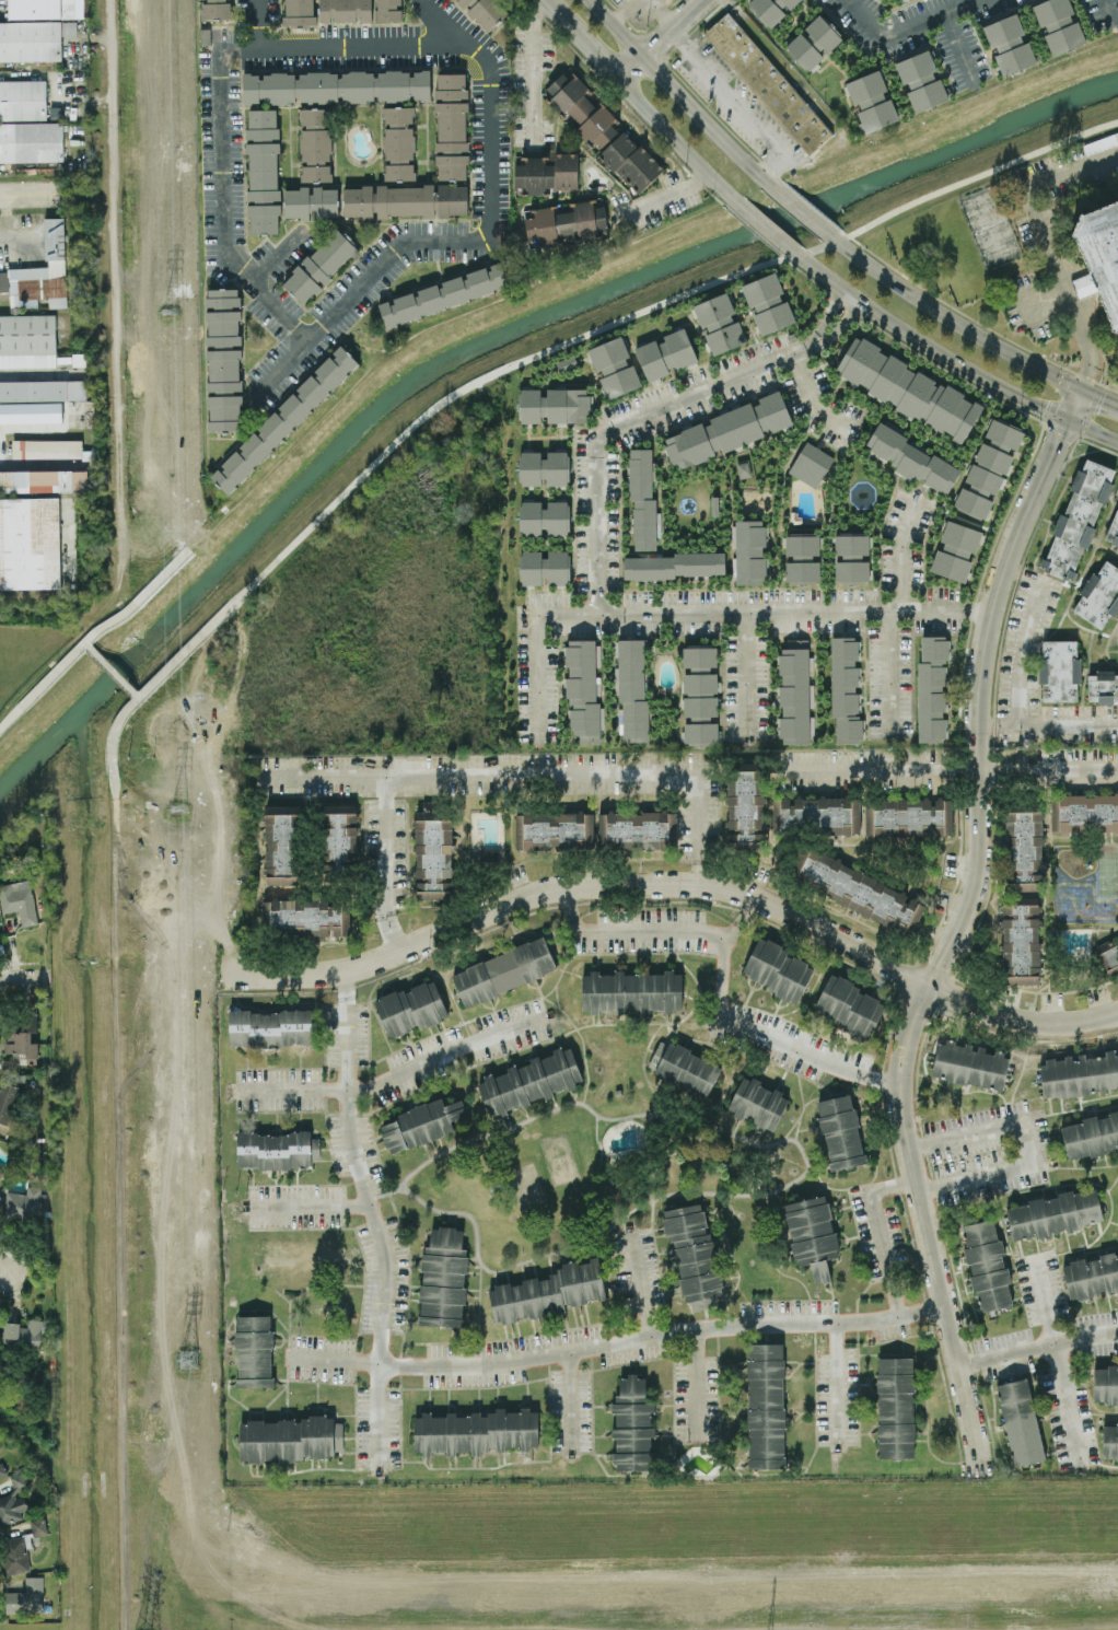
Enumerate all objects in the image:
building: (902, 0)
road: (543, 1)
building: (42, 8)
building: (217, 9)
building: (771, 9)
building: (345, 10)
building: (388, 10)
building: (485, 11)
building: (299, 12)
road: (1107, 13)
road: (260, 22)
road: (439, 22)
building: (1058, 24)
road: (905, 26)
road: (660, 39)
building: (30, 40)
road: (580, 40)
building: (813, 42)
road: (424, 44)
building: (1009, 44)
road: (963, 47)
road: (534, 71)
building: (921, 81)
building: (768, 82)
road: (678, 93)
building: (872, 101)
road: (737, 103)
building: (27, 125)
building: (452, 126)
building: (603, 131)
building: (315, 141)
road: (675, 141)
park: (966, 141)
building: (398, 142)
building: (263, 171)
building: (545, 172)
road: (30, 195)
road: (661, 197)
building: (405, 200)
building: (311, 202)
road: (800, 210)
road: (761, 225)
building: (990, 226)
road: (1056, 251)
building: (1102, 254)
road: (280, 258)
building: (319, 265)
building: (39, 272)
building: (443, 294)
building: (768, 304)
power tower: (172, 314)
road: (952, 319)
building: (719, 323)
road: (432, 328)
building: (27, 334)
road: (581, 336)
river: (496, 337)
road: (113, 342)
road: (922, 345)
building: (665, 353)
building: (223, 358)
building: (566, 362)
building: (614, 366)
building: (908, 388)
building: (43, 389)
traffic signals: (1083, 391)
road: (810, 395)
road: (1100, 397)
building: (555, 406)
road: (649, 411)
building: (284, 419)
traffic signals: (1070, 421)
building: (727, 430)
road: (1094, 431)
building: (47, 447)
building: (912, 459)
road: (39, 463)
building: (811, 464)
building: (989, 467)
building: (544, 468)
building: (642, 497)
building: (543, 517)
building: (1079, 517)
building: (33, 525)
building: (1113, 529)
building: (748, 550)
building: (955, 550)
road: (902, 556)
building: (851, 557)
building: (803, 559)
building: (676, 564)
building: (544, 567)
road: (1001, 570)
building: (1099, 595)
road: (141, 596)
road: (762, 613)
road: (1027, 634)
building: (1117, 643)
road: (110, 670)
building: (1059, 670)
road: (888, 672)
road: (745, 674)
road: (537, 676)
road: (42, 685)
building: (1102, 686)
building: (846, 687)
building: (931, 688)
building: (582, 689)
building: (632, 689)
building: (794, 692)
building: (700, 695)
road: (1048, 725)
road: (1048, 764)
road: (617, 770)
road: (114, 771)
road: (28, 802)
building: (745, 808)
power tower: (180, 810)
building: (1084, 812)
building: (818, 813)
building: (908, 817)
road: (700, 827)
building: (636, 829)
building: (554, 830)
building: (338, 837)
building: (282, 845)
building: (1025, 847)
building: (433, 851)
road: (386, 863)
road: (973, 882)
road: (575, 888)
building: (861, 890)
building: (19, 900)
road: (116, 906)
building: (306, 917)
road: (631, 929)
building: (0, 936)
building: (1021, 940)
road: (723, 951)
building: (1108, 954)
building: (778, 969)
building: (503, 971)
road: (23, 979)
building: (631, 991)
building: (850, 1005)
building: (410, 1008)
road: (1018, 1020)
building: (270, 1027)
building: (22, 1039)
road: (796, 1047)
road: (443, 1052)
building: (969, 1064)
building: (684, 1067)
building: (1079, 1074)
building: (529, 1081)
road: (290, 1090)
building: (8, 1101)
building: (757, 1103)
building: (421, 1123)
building: (840, 1131)
building: (1091, 1136)
building: (277, 1149)
building: (1, 1171)
road: (965, 1175)
road: (62, 1199)
building: (25, 1202)
road: (310, 1206)
building: (1053, 1213)
road: (371, 1216)
road: (925, 1231)
building: (812, 1234)
building: (694, 1254)
road: (4, 1262)
building: (987, 1266)
building: (1091, 1274)
building: (443, 1278)
road: (641, 1282)
building: (548, 1291)
road: (120, 1294)
building: (23, 1335)
road: (621, 1339)
road: (1038, 1346)
building: (254, 1351)
power tower: (187, 1361)
road: (1063, 1362)
building: (1105, 1384)
road: (694, 1387)
road: (839, 1393)
road: (570, 1404)
building: (766, 1405)
building: (896, 1407)
building: (1020, 1421)
building: (632, 1424)
building: (476, 1431)
building: (289, 1439)
building: (1110, 1441)
road: (35, 1447)
building: (2, 1469)
building: (13, 1500)
building: (38, 1526)
building: (14, 1553)
building: (26, 1596)

